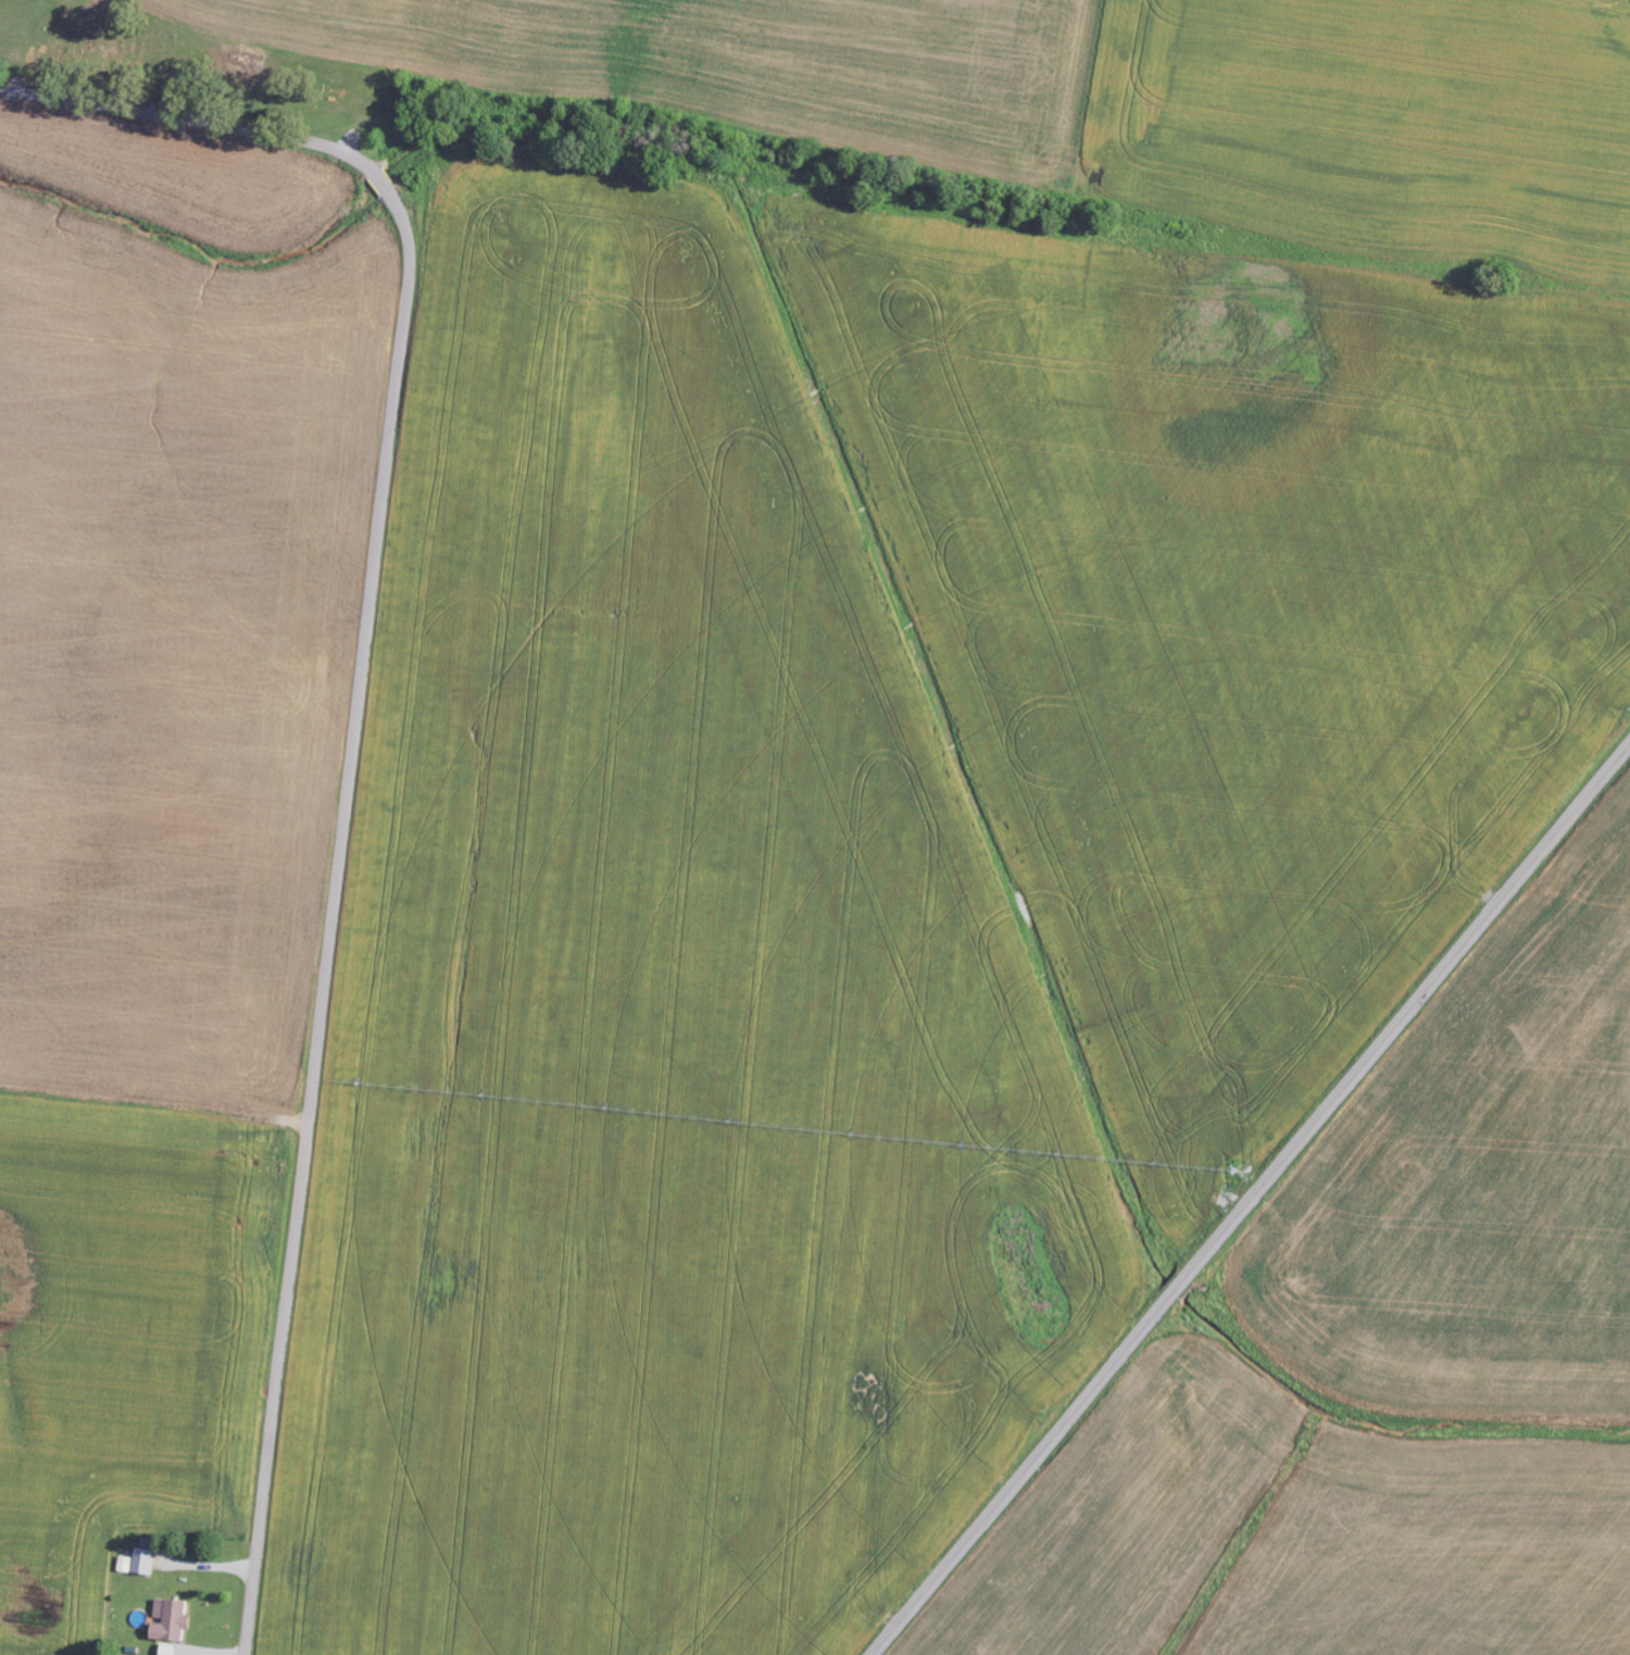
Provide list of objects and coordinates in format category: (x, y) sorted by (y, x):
park: (121, 54)
road: (351, 722)
road: (1252, 1201)

